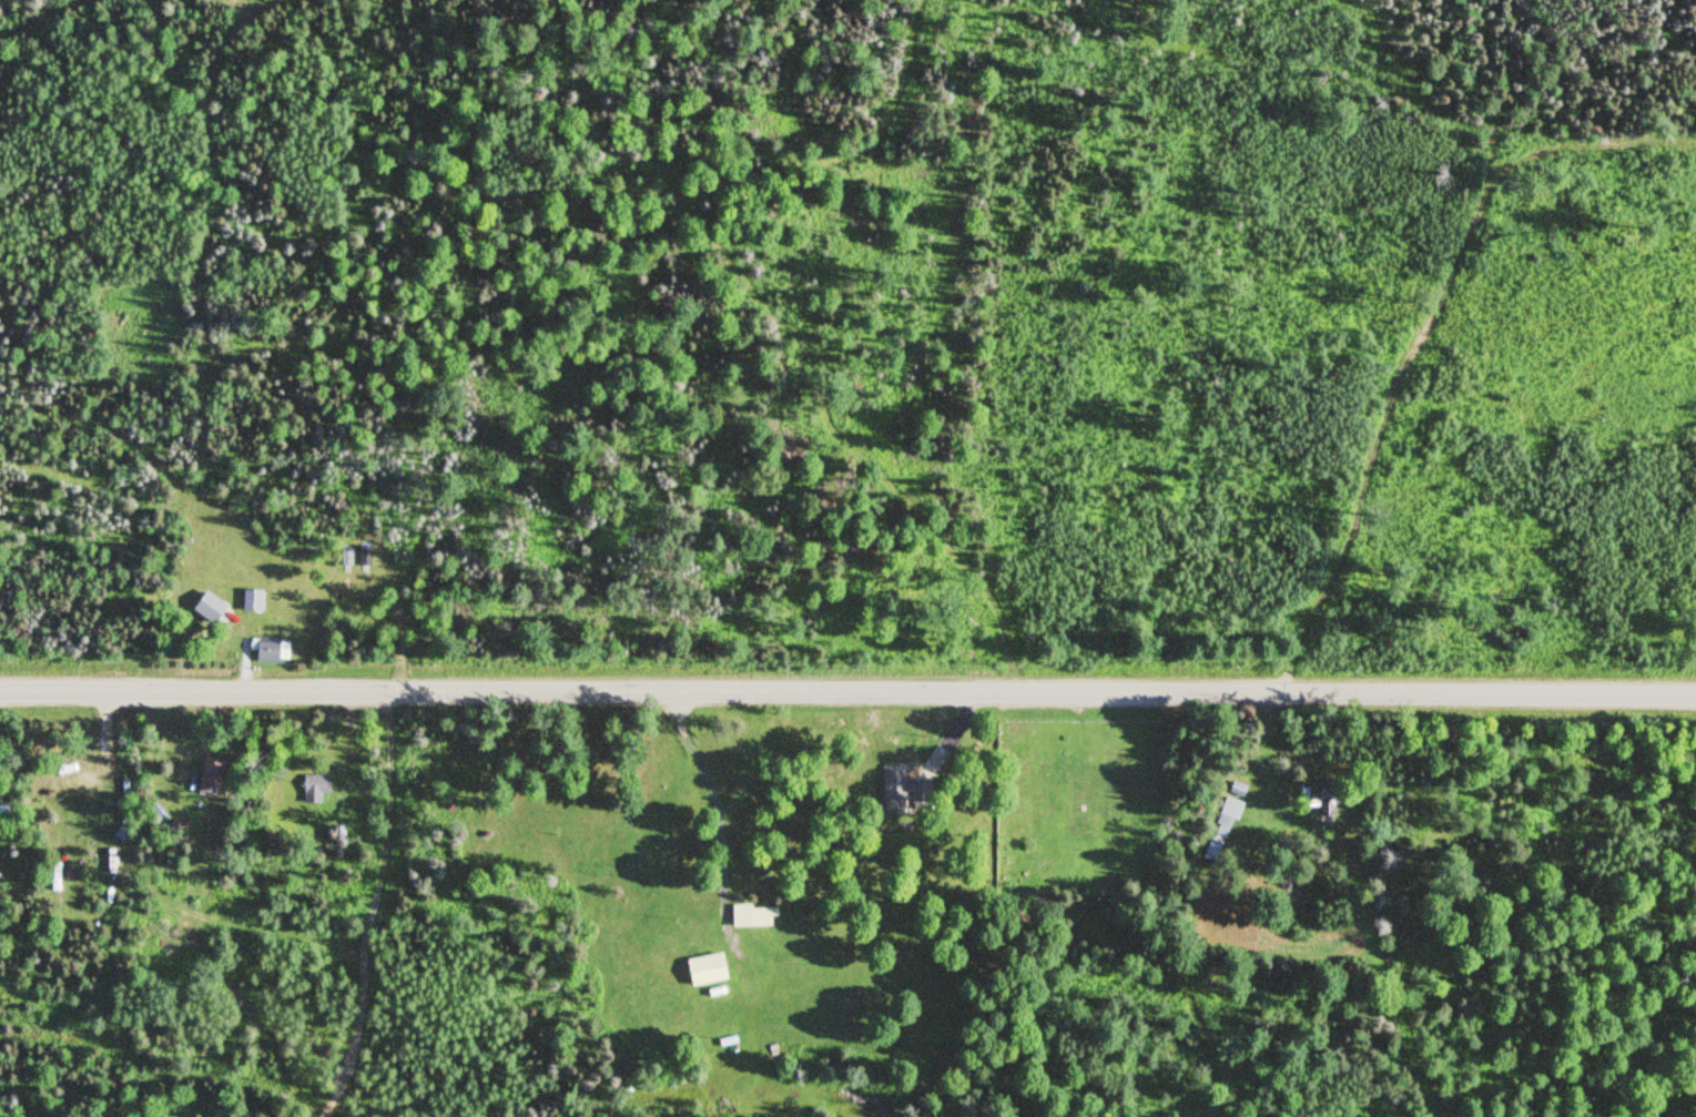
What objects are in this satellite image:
road: (1420, 336)
building: (345, 556)
building: (363, 556)
building: (251, 601)
building: (207, 611)
building: (267, 650)
road: (847, 690)
road: (1260, 730)
building: (205, 778)
building: (311, 788)
building: (896, 790)
building: (1236, 791)
road: (718, 805)
building: (1319, 805)
building: (1217, 833)
building: (749, 916)
building: (701, 968)

